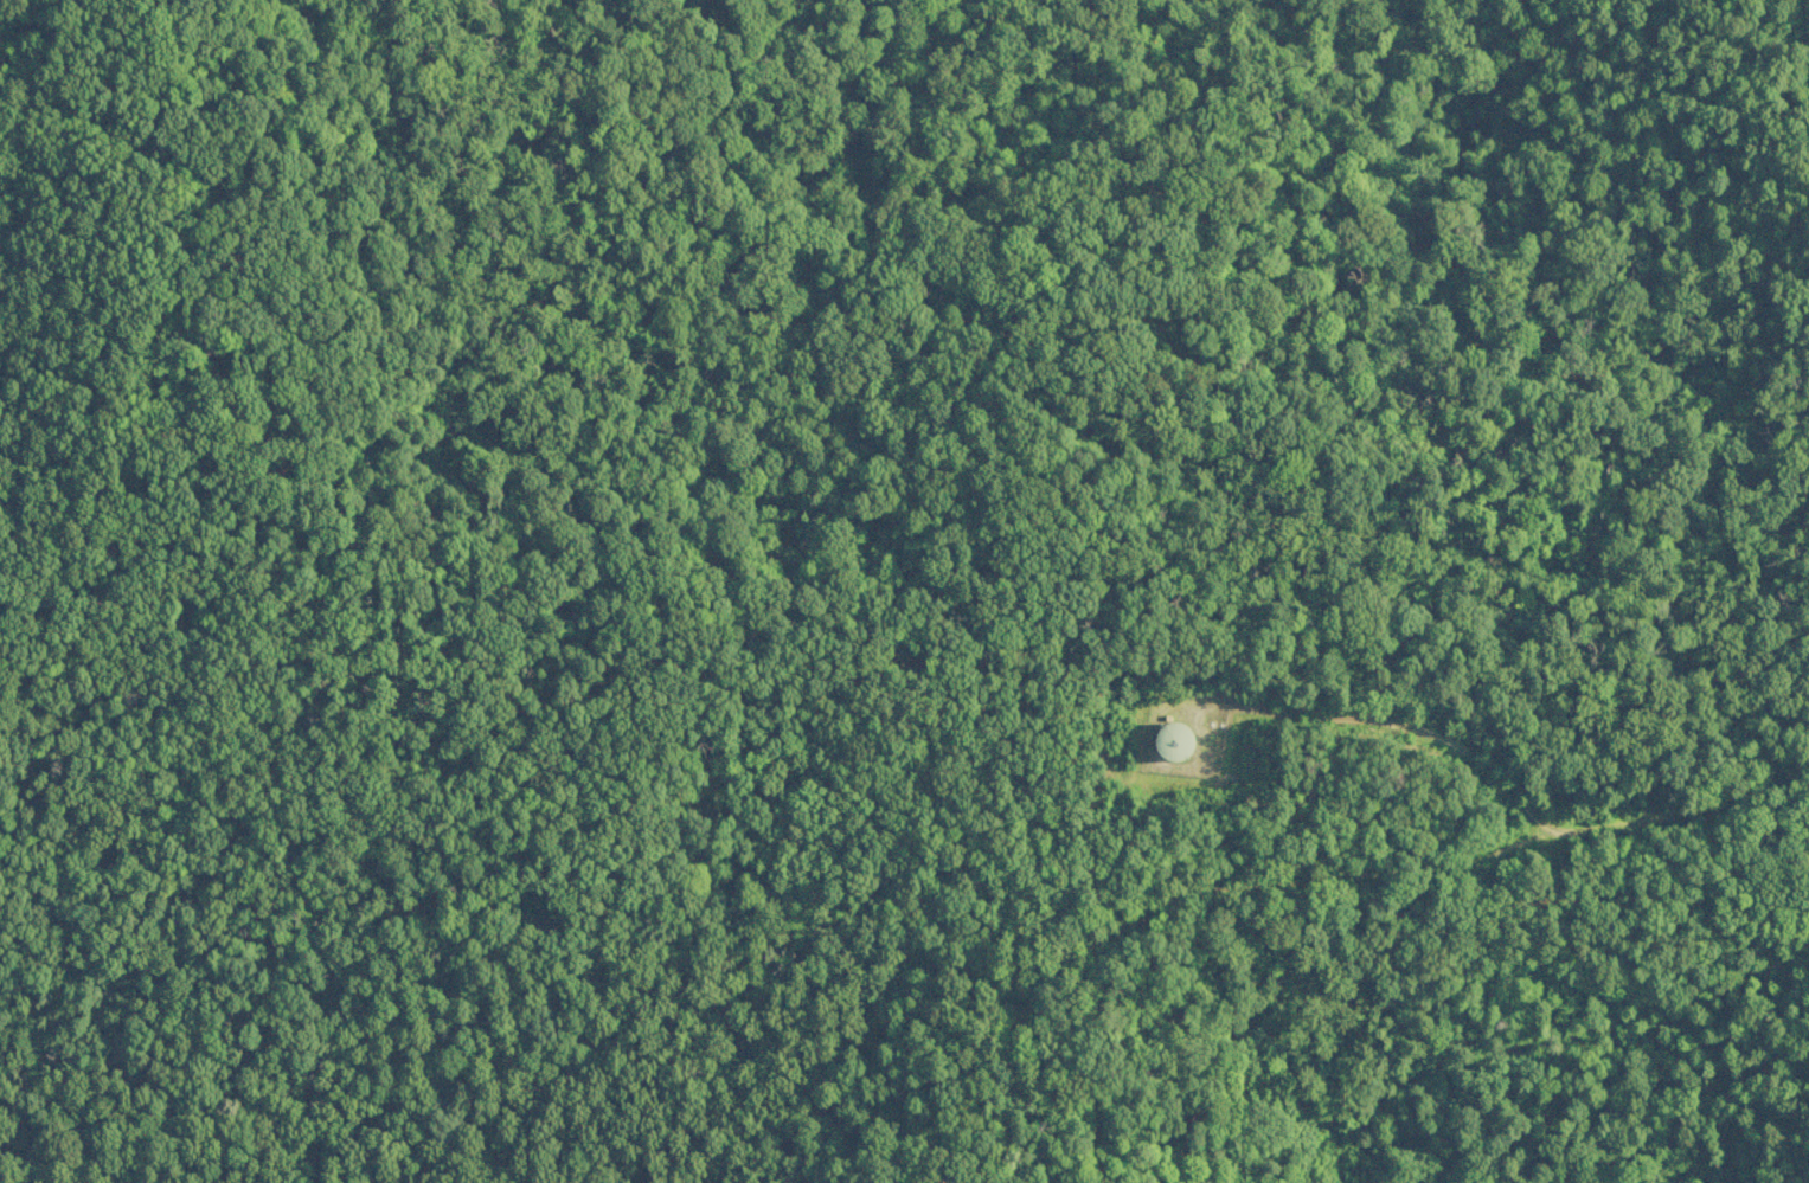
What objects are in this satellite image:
building: (1172, 742)
road: (1802, 746)
road: (1319, 829)

